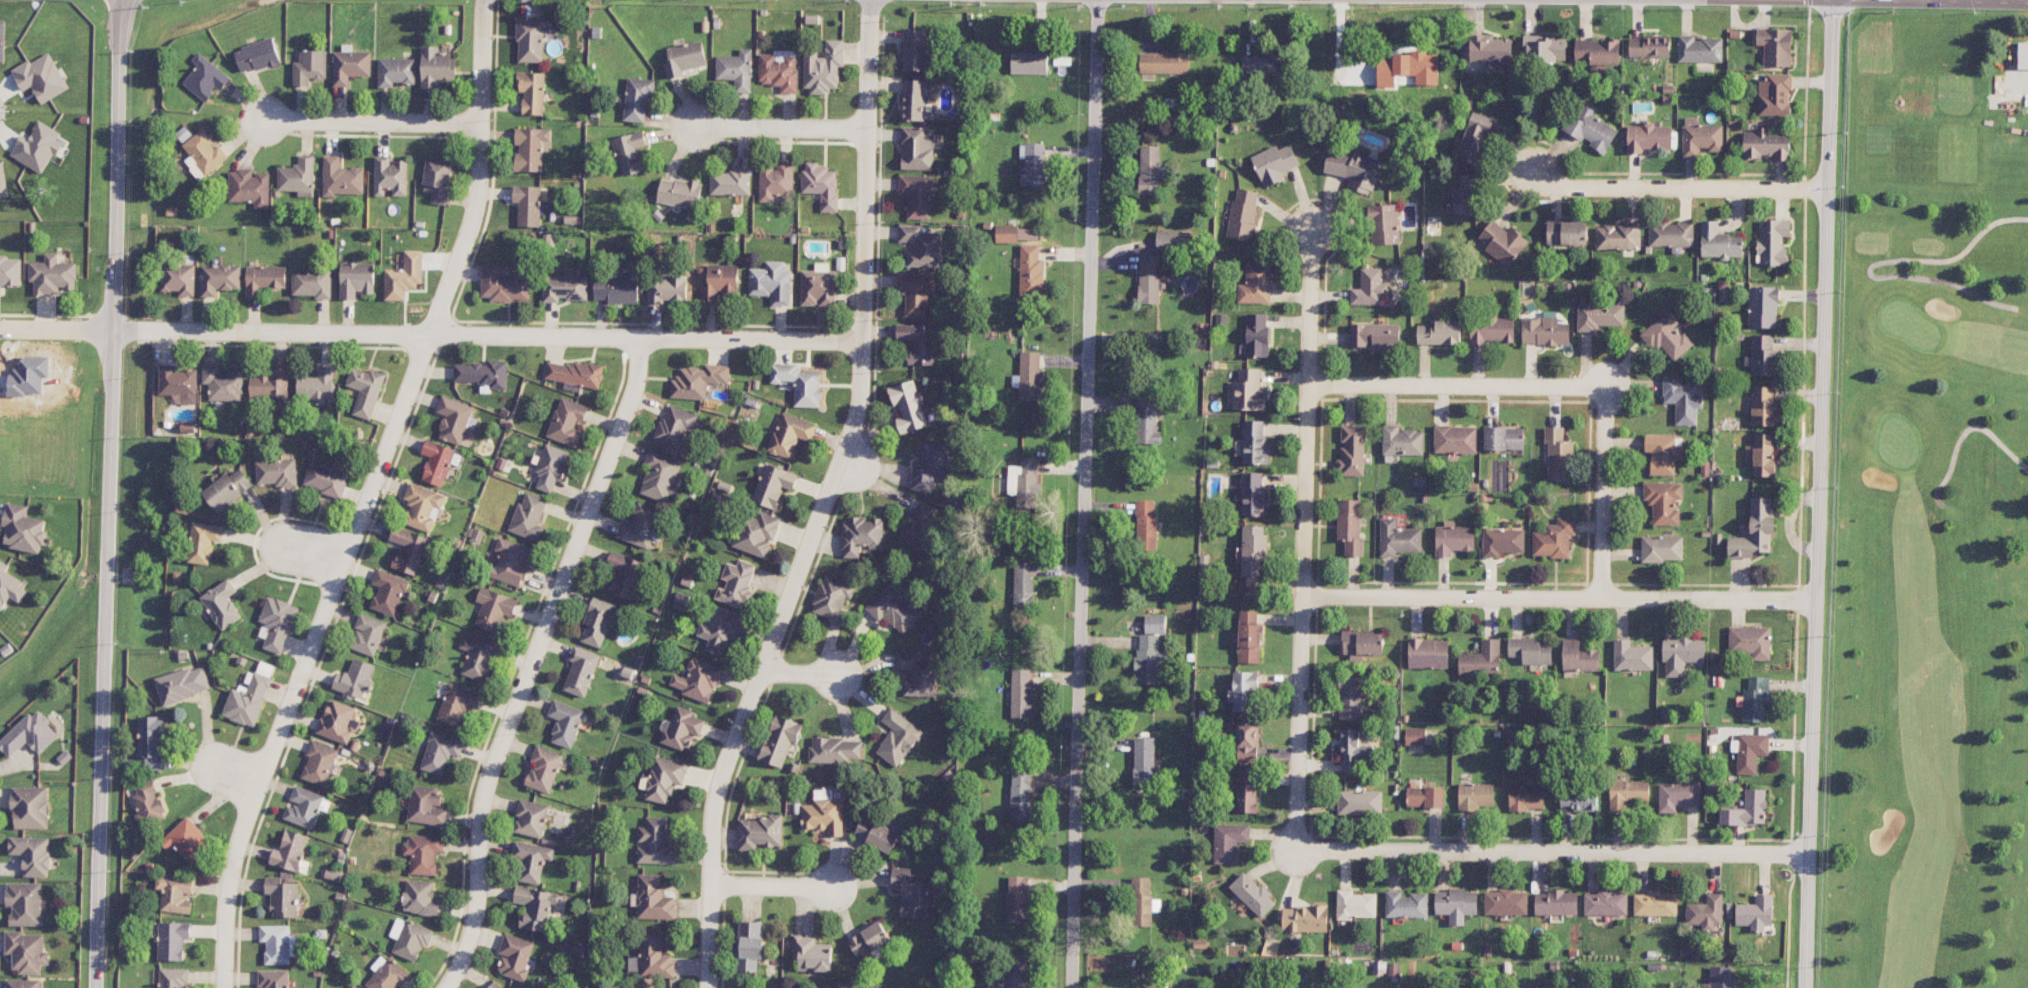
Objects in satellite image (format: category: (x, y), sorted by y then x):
road: (1942, 1)
road: (1944, 3)
building: (530, 40)
building: (2, 41)
building: (1649, 46)
building: (1775, 46)
building: (917, 49)
building: (1489, 49)
building: (1544, 49)
building: (1699, 49)
building: (1597, 52)
building: (2022, 55)
building: (257, 56)
building: (684, 58)
building: (1029, 62)
building: (1164, 63)
building: (1261, 65)
building: (350, 66)
building: (310, 67)
building: (437, 67)
building: (824, 68)
building: (1408, 68)
building: (737, 70)
building: (396, 71)
building: (779, 72)
building: (41, 77)
building: (205, 77)
building: (532, 92)
building: (1774, 95)
building: (637, 100)
building: (914, 100)
road: (359, 121)
road: (769, 127)
building: (1590, 127)
building: (1700, 136)
building: (1647, 137)
building: (1766, 144)
building: (38, 147)
building: (531, 148)
building: (917, 149)
building: (629, 153)
building: (203, 154)
building: (1274, 163)
building: (1032, 164)
building: (1353, 169)
building: (1149, 170)
building: (390, 176)
building: (298, 177)
building: (341, 178)
building: (438, 179)
building: (3, 182)
building: (730, 182)
building: (776, 182)
building: (822, 185)
road: (1666, 186)
building: (249, 187)
building: (679, 193)
building: (919, 194)
building: (1465, 196)
building: (528, 205)
building: (1243, 214)
building: (1384, 224)
building: (1567, 232)
building: (1006, 233)
building: (1027, 234)
building: (1670, 234)
building: (1618, 236)
building: (1174, 241)
building: (1503, 242)
building: (1719, 242)
building: (1773, 242)
building: (921, 246)
building: (1031, 270)
building: (10, 271)
building: (52, 275)
building: (404, 276)
building: (178, 278)
building: (219, 278)
building: (1149, 278)
building: (264, 279)
building: (356, 279)
building: (718, 281)
building: (311, 283)
building: (772, 283)
building: (503, 284)
building: (1255, 284)
building: (565, 286)
building: (818, 286)
building: (616, 289)
building: (667, 290)
building: (916, 292)
building: (1763, 306)
building: (1599, 314)
building: (1492, 330)
building: (1544, 331)
building: (1439, 332)
road: (430, 334)
building: (1257, 335)
building: (1376, 336)
building: (1668, 337)
building: (918, 342)
building: (1763, 355)
building: (574, 373)
building: (484, 374)
building: (1029, 376)
building: (698, 381)
building: (223, 383)
building: (799, 383)
building: (178, 384)
building: (269, 385)
road: (1457, 385)
building: (318, 386)
building: (366, 390)
building: (1249, 390)
building: (1682, 399)
building: (908, 406)
building: (1764, 407)
building: (454, 419)
building: (568, 422)
building: (1147, 423)
building: (675, 427)
building: (790, 434)
building: (1503, 438)
building: (1455, 439)
building: (1401, 441)
building: (1253, 444)
building: (1351, 451)
building: (1663, 453)
building: (1558, 454)
building: (1762, 454)
building: (437, 462)
road: (853, 463)
building: (931, 466)
building: (551, 467)
building: (276, 472)
building: (661, 475)
building: (326, 479)
building: (1025, 483)
building: (773, 485)
building: (227, 489)
road: (1603, 491)
road: (108, 493)
road: (1084, 494)
building: (1252, 494)
road: (1819, 494)
road: (366, 495)
road: (824, 501)
building: (1663, 501)
building: (422, 507)
park: (1932, 513)
building: (529, 516)
building: (919, 524)
building: (1146, 525)
building: (1350, 525)
building: (640, 526)
road: (1304, 527)
building: (23, 528)
building: (1755, 531)
building: (757, 534)
building: (862, 535)
building: (1398, 538)
building: (1453, 538)
building: (1554, 539)
building: (1502, 541)
building: (203, 542)
building: (1662, 548)
building: (409, 549)
road: (312, 551)
building: (1253, 556)
building: (511, 561)
building: (625, 574)
building: (736, 583)
building: (1024, 584)
building: (10, 587)
building: (388, 592)
road: (1560, 596)
building: (832, 599)
building: (222, 604)
building: (894, 608)
building: (494, 609)
building: (277, 623)
building: (598, 623)
building: (1155, 624)
building: (720, 629)
building: (368, 634)
building: (1249, 637)
building: (1750, 641)
building: (1361, 644)
building: (1531, 650)
building: (1428, 653)
building: (1681, 654)
building: (1631, 655)
building: (478, 656)
building: (1578, 656)
road: (528, 659)
building: (1148, 659)
building: (1481, 659)
building: (581, 671)
road: (803, 673)
building: (917, 674)
building: (355, 680)
building: (699, 680)
building: (182, 684)
building: (1244, 691)
building: (1021, 693)
building: (1350, 698)
building: (1756, 698)
building: (248, 701)
building: (458, 703)
building: (337, 722)
building: (566, 723)
building: (682, 729)
building: (29, 734)
building: (1415, 736)
building: (898, 738)
building: (780, 740)
building: (151, 741)
building: (1247, 741)
building: (836, 750)
building: (1748, 751)
building: (440, 752)
building: (1353, 752)
building: (1143, 761)
building: (319, 763)
building: (543, 769)
road: (232, 772)
building: (664, 778)
building: (1246, 791)
building: (1627, 793)
building: (1020, 795)
building: (1475, 796)
building: (1678, 796)
building: (1425, 797)
building: (1526, 797)
building: (1578, 801)
building: (1359, 802)
building: (148, 804)
building: (427, 806)
building: (29, 807)
building: (306, 807)
building: (1746, 810)
building: (824, 813)
building: (531, 818)
building: (759, 832)
building: (877, 835)
building: (187, 839)
building: (1228, 842)
building: (655, 843)
building: (290, 851)
road: (1552, 851)
building: (424, 853)
building: (32, 854)
building: (532, 860)
road: (775, 886)
building: (175, 892)
building: (914, 892)
building: (1253, 894)
building: (282, 897)
building: (420, 897)
building: (653, 898)
building: (1016, 899)
building: (1141, 901)
building: (1506, 902)
building: (25, 903)
building: (1556, 903)
building: (1606, 903)
building: (1655, 903)
building: (1456, 904)
building: (1355, 905)
building: (1406, 905)
building: (535, 907)
building: (1705, 912)
building: (1755, 912)
building: (1305, 919)
building: (409, 938)
building: (869, 939)
building: (172, 940)
building: (278, 944)
building: (750, 945)
building: (26, 951)
building: (812, 953)
building: (515, 956)
building: (652, 957)
building: (386, 974)
building: (1013, 974)
building: (1720, 977)
building: (174, 978)
building: (273, 979)
building: (23, 983)
building: (495, 985)
building: (352, 986)

